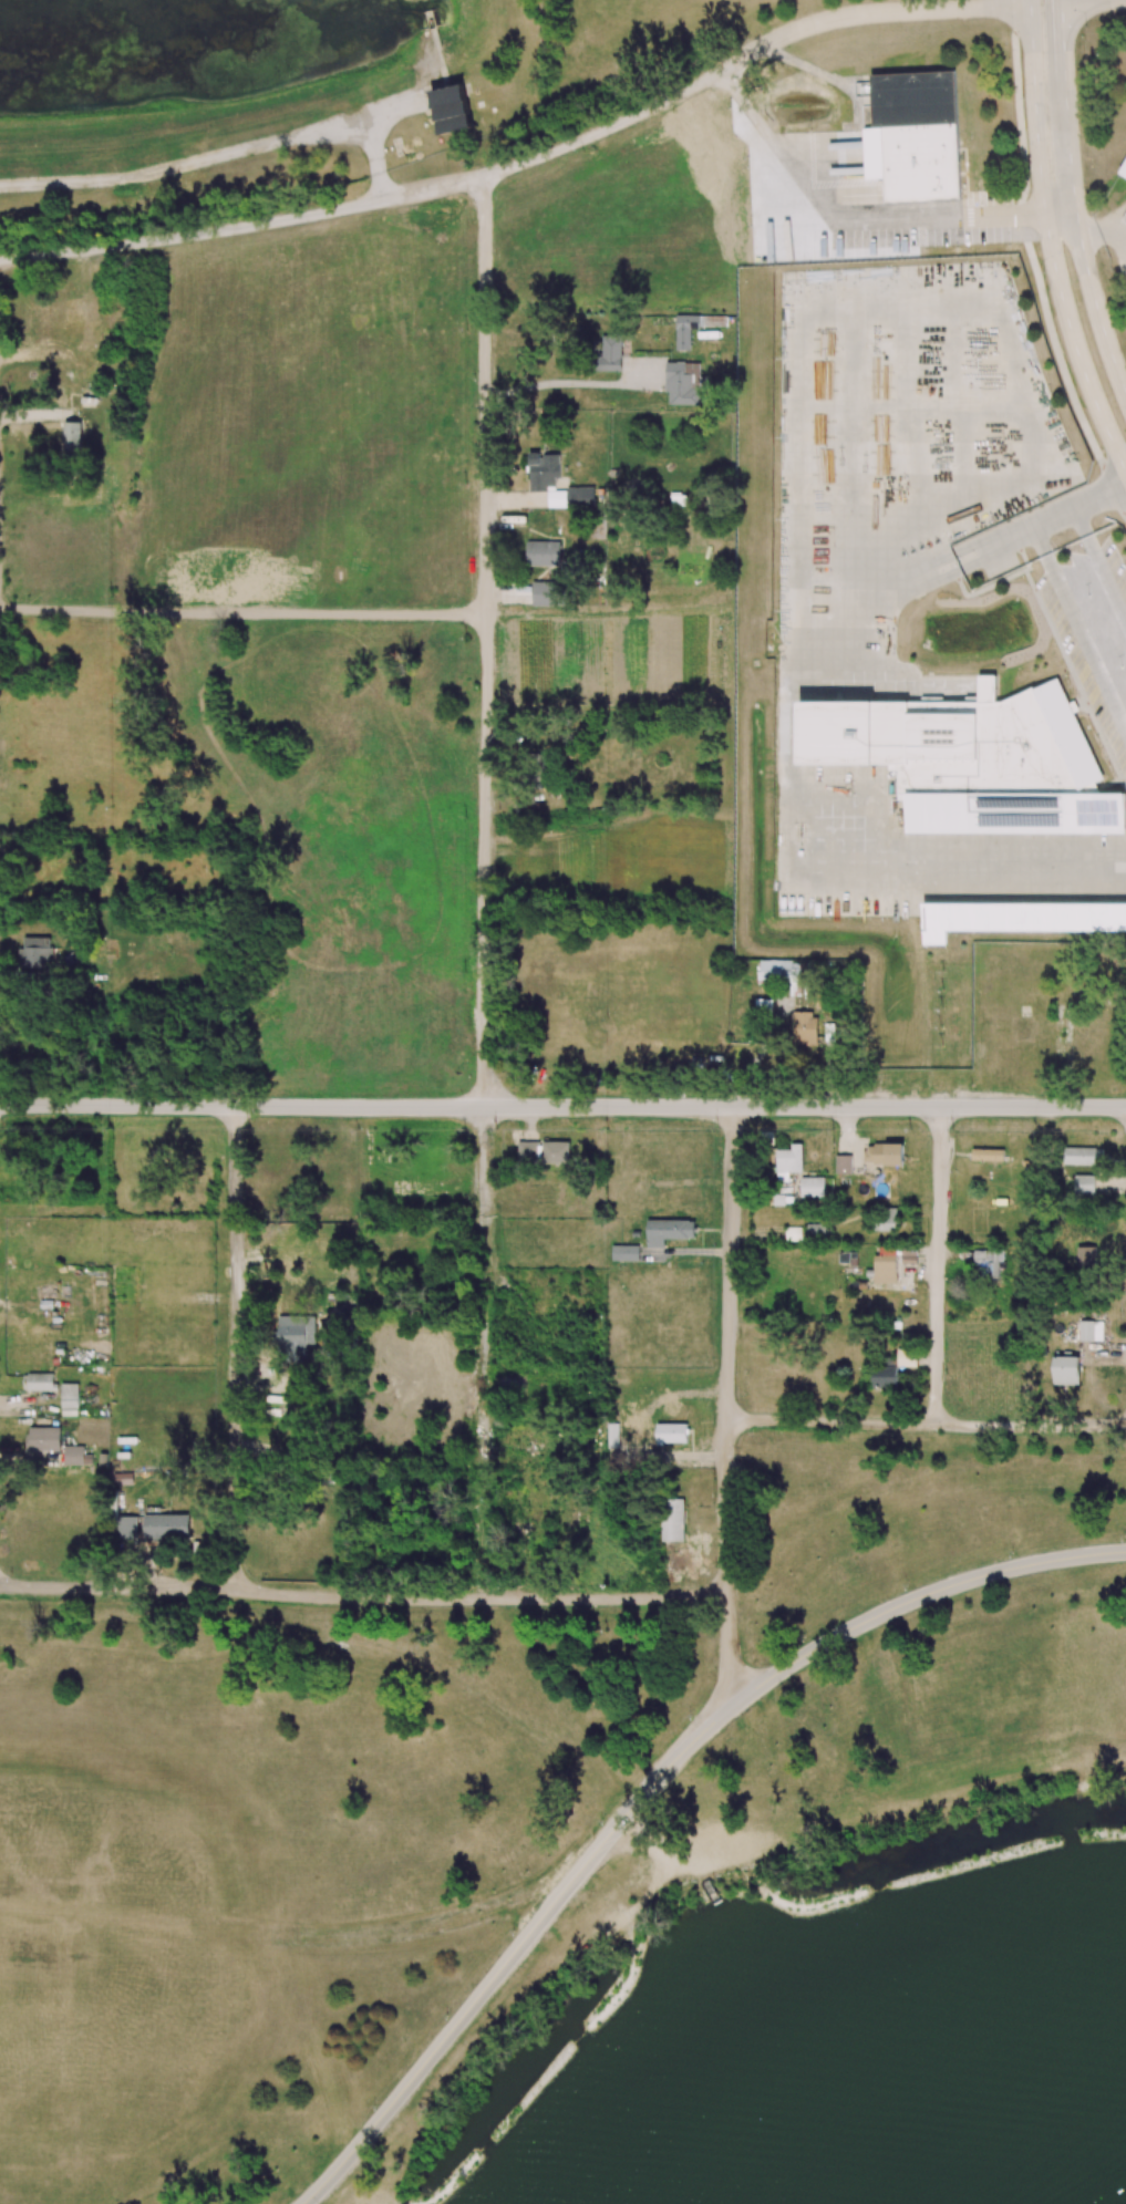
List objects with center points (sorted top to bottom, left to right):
road: (1094, 4)
road: (1063, 43)
road: (808, 68)
building: (452, 108)
building: (918, 134)
road: (1071, 155)
road: (526, 162)
building: (1123, 170)
building: (1123, 177)
road: (857, 226)
road: (1103, 228)
road: (1051, 242)
road: (1033, 262)
road: (1097, 310)
building: (685, 330)
building: (610, 353)
road: (569, 383)
building: (682, 383)
building: (72, 438)
building: (546, 477)
building: (580, 497)
building: (543, 552)
road: (1101, 566)
building: (545, 593)
road: (242, 614)
road: (1079, 629)
road: (881, 684)
road: (795, 732)
building: (973, 759)
road: (487, 886)
building: (1019, 918)
building: (34, 952)
building: (805, 1028)
road: (365, 1106)
road: (929, 1107)
street lamp: (1, 1128)
street lamp: (248, 1128)
street lamp: (495, 1128)
street lamp: (715, 1129)
street lamp: (952, 1129)
building: (544, 1152)
building: (884, 1153)
building: (988, 1155)
building: (1079, 1156)
building: (788, 1161)
building: (843, 1165)
building: (1084, 1184)
building: (812, 1187)
building: (885, 1220)
building: (668, 1231)
building: (816, 1231)
building: (793, 1233)
building: (626, 1253)
building: (1085, 1256)
building: (988, 1259)
building: (892, 1262)
road: (937, 1265)
building: (1091, 1331)
building: (292, 1334)
road: (236, 1349)
building: (892, 1368)
building: (1065, 1370)
building: (39, 1382)
building: (70, 1395)
road: (725, 1407)
road: (924, 1424)
building: (612, 1431)
building: (671, 1432)
building: (43, 1438)
building: (76, 1456)
building: (672, 1520)
building: (166, 1525)
building: (127, 1528)
street lamp: (1125, 1533)
street lamp: (1012, 1552)
street lamp: (906, 1583)
road: (363, 1595)
road: (652, 1787)
park: (614, 1889)

